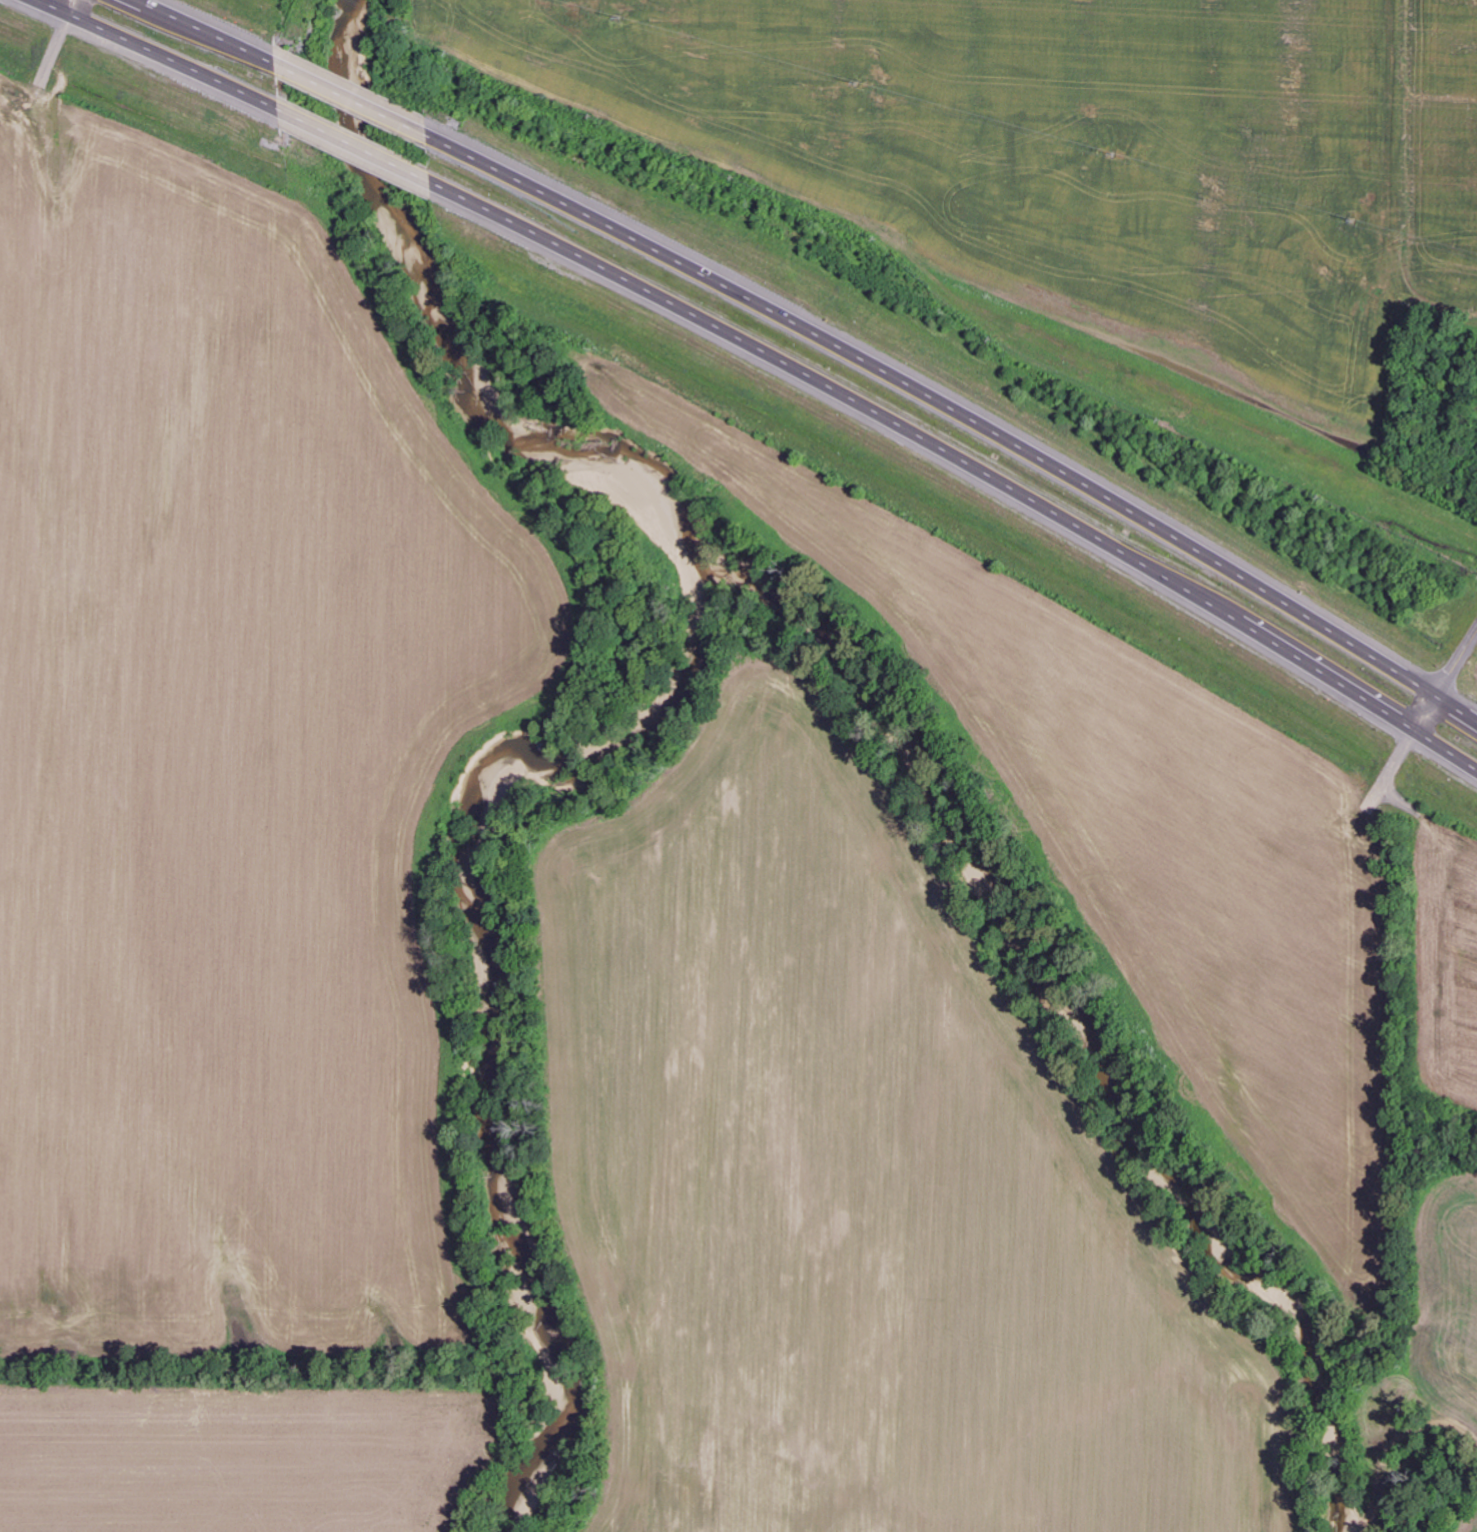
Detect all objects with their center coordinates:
road: (69, 8)
road: (206, 32)
road: (156, 54)
road: (355, 100)
road: (358, 145)
road: (963, 413)
road: (965, 456)
road: (1444, 682)
road: (1444, 1418)

